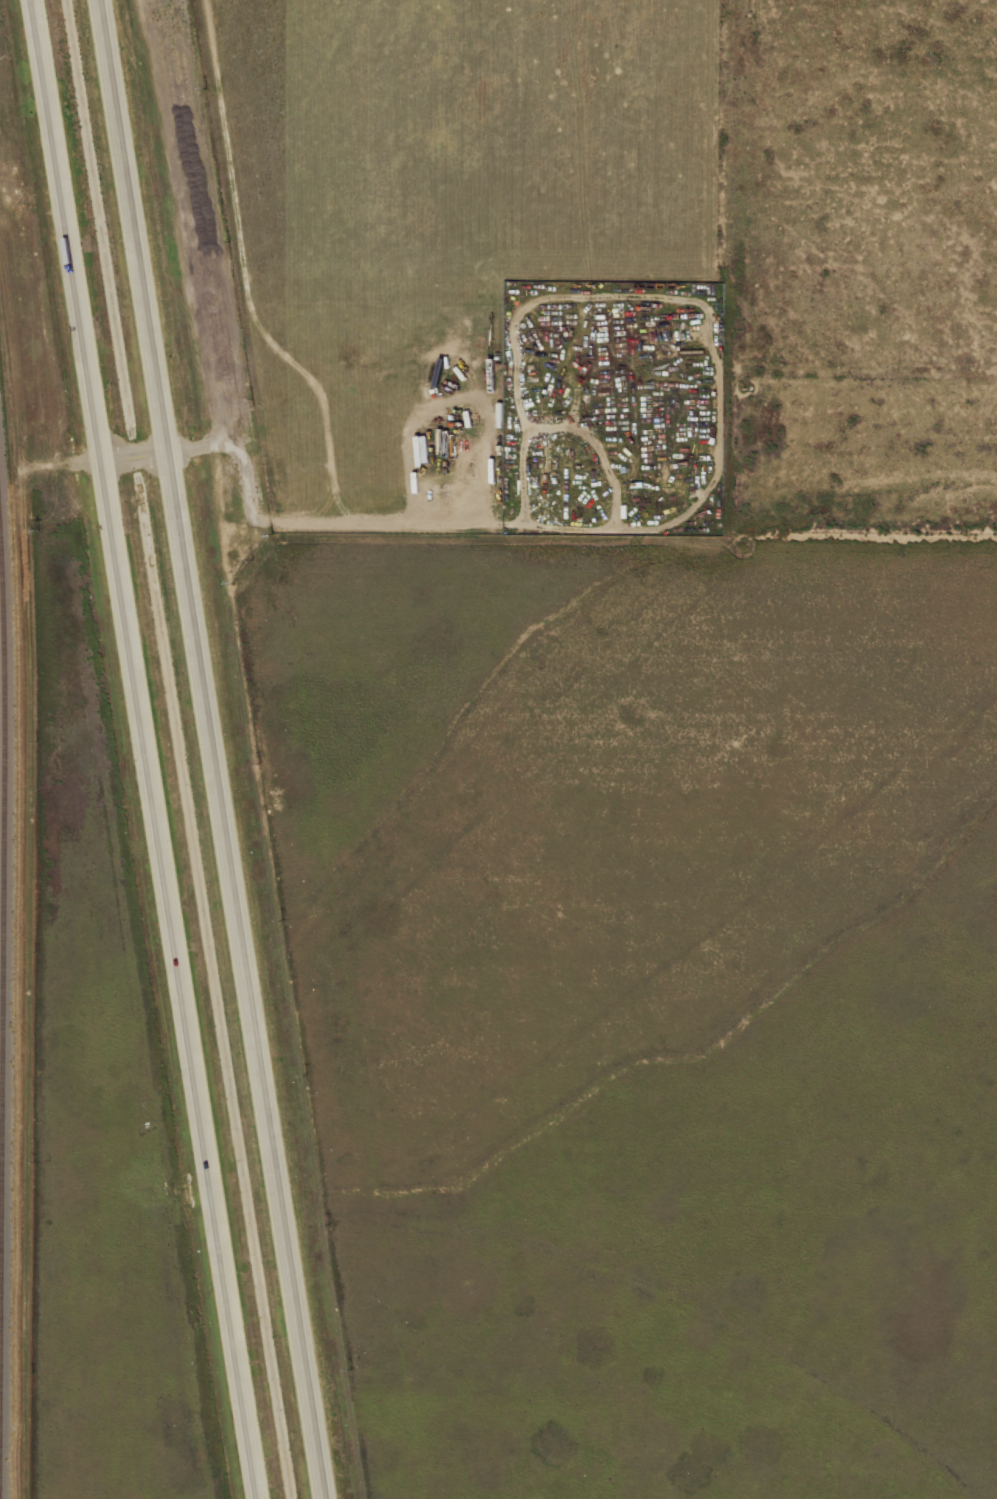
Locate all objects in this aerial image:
road: (127, 225)
road: (66, 229)
road: (231, 448)
road: (131, 454)
road: (376, 519)
railway: (2, 888)
road: (239, 974)
road: (178, 978)

